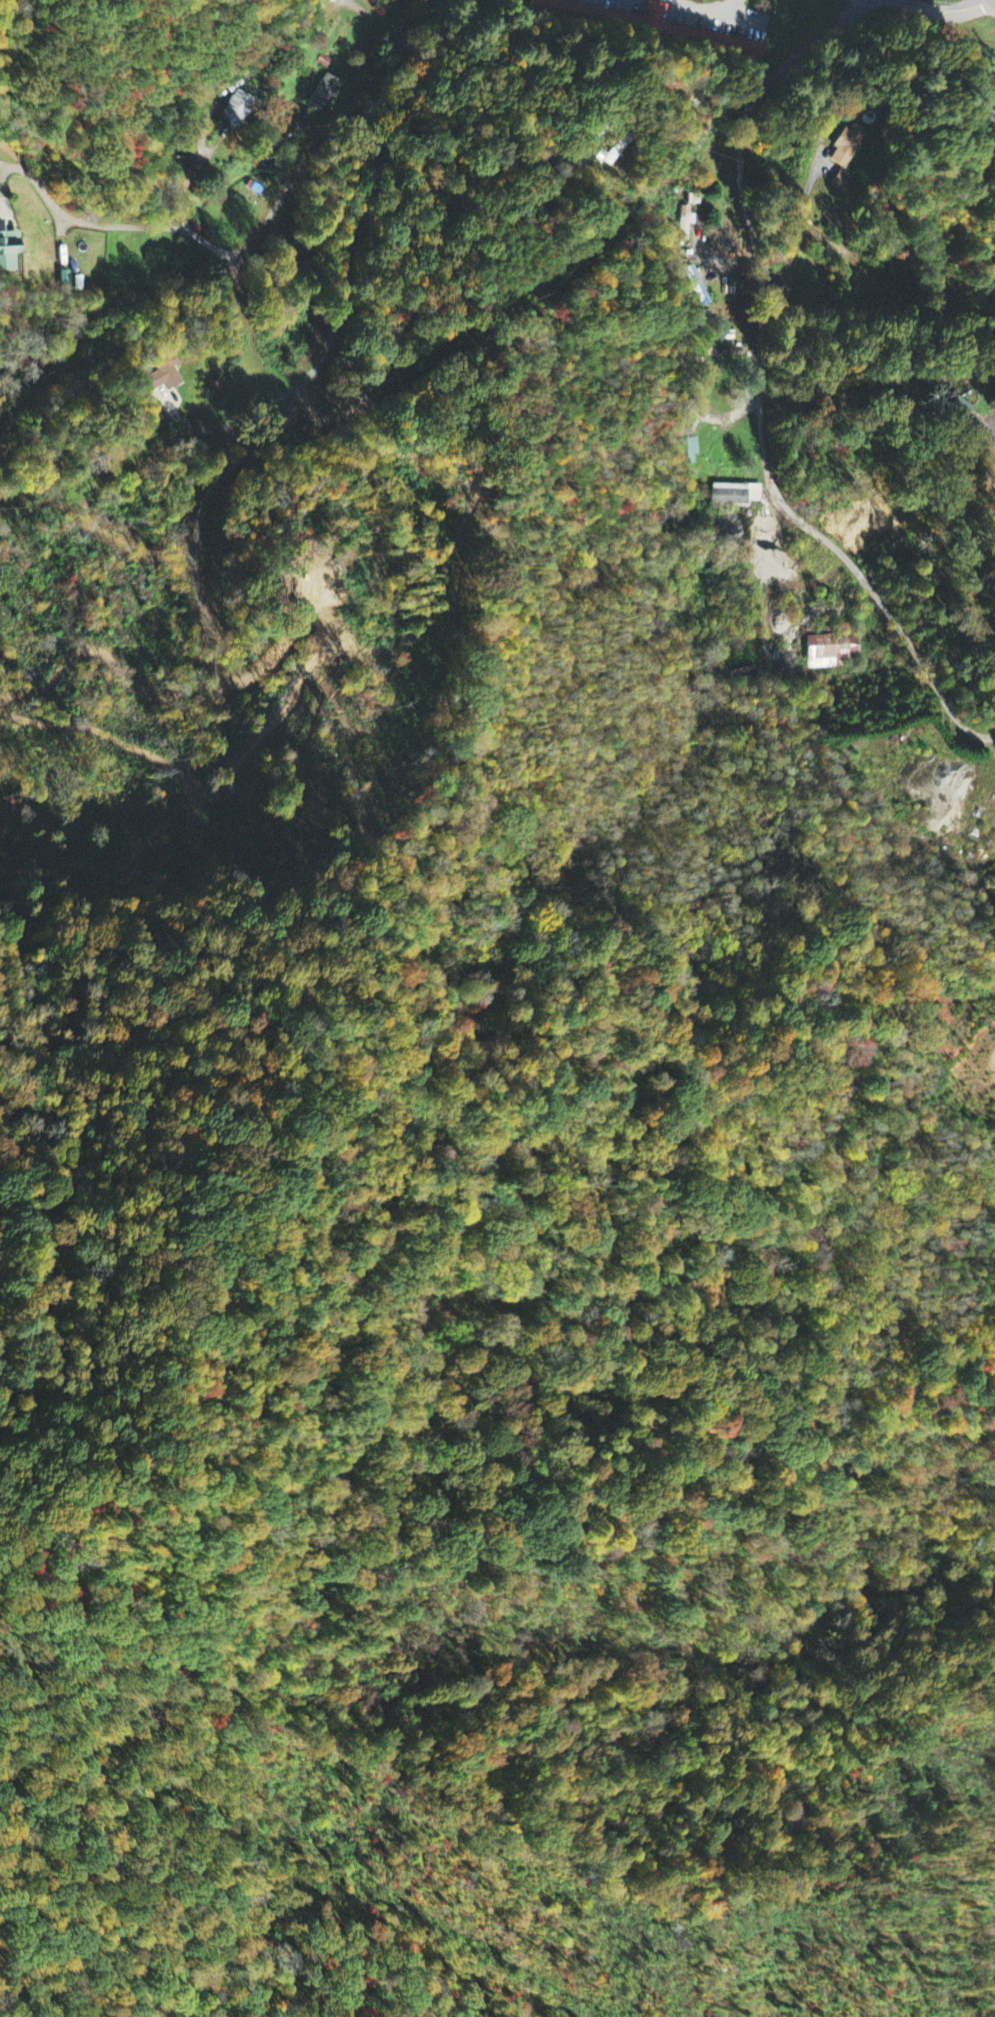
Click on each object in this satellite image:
road: (925, 10)
building: (653, 17)
building: (737, 47)
building: (325, 94)
building: (235, 110)
building: (847, 146)
building: (612, 153)
building: (842, 183)
road: (107, 225)
building: (686, 227)
building: (7, 251)
road: (245, 254)
building: (162, 376)
road: (764, 393)
road: (308, 408)
building: (955, 410)
building: (688, 453)
building: (736, 495)
road: (812, 588)
building: (829, 651)

